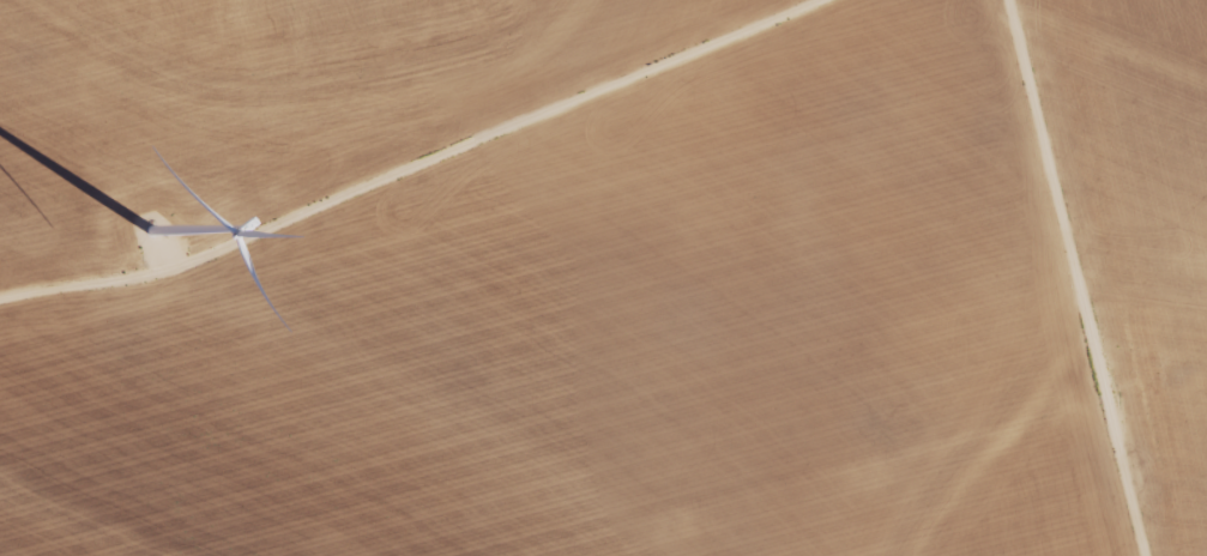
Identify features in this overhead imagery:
wind turbine: (144, 231)

